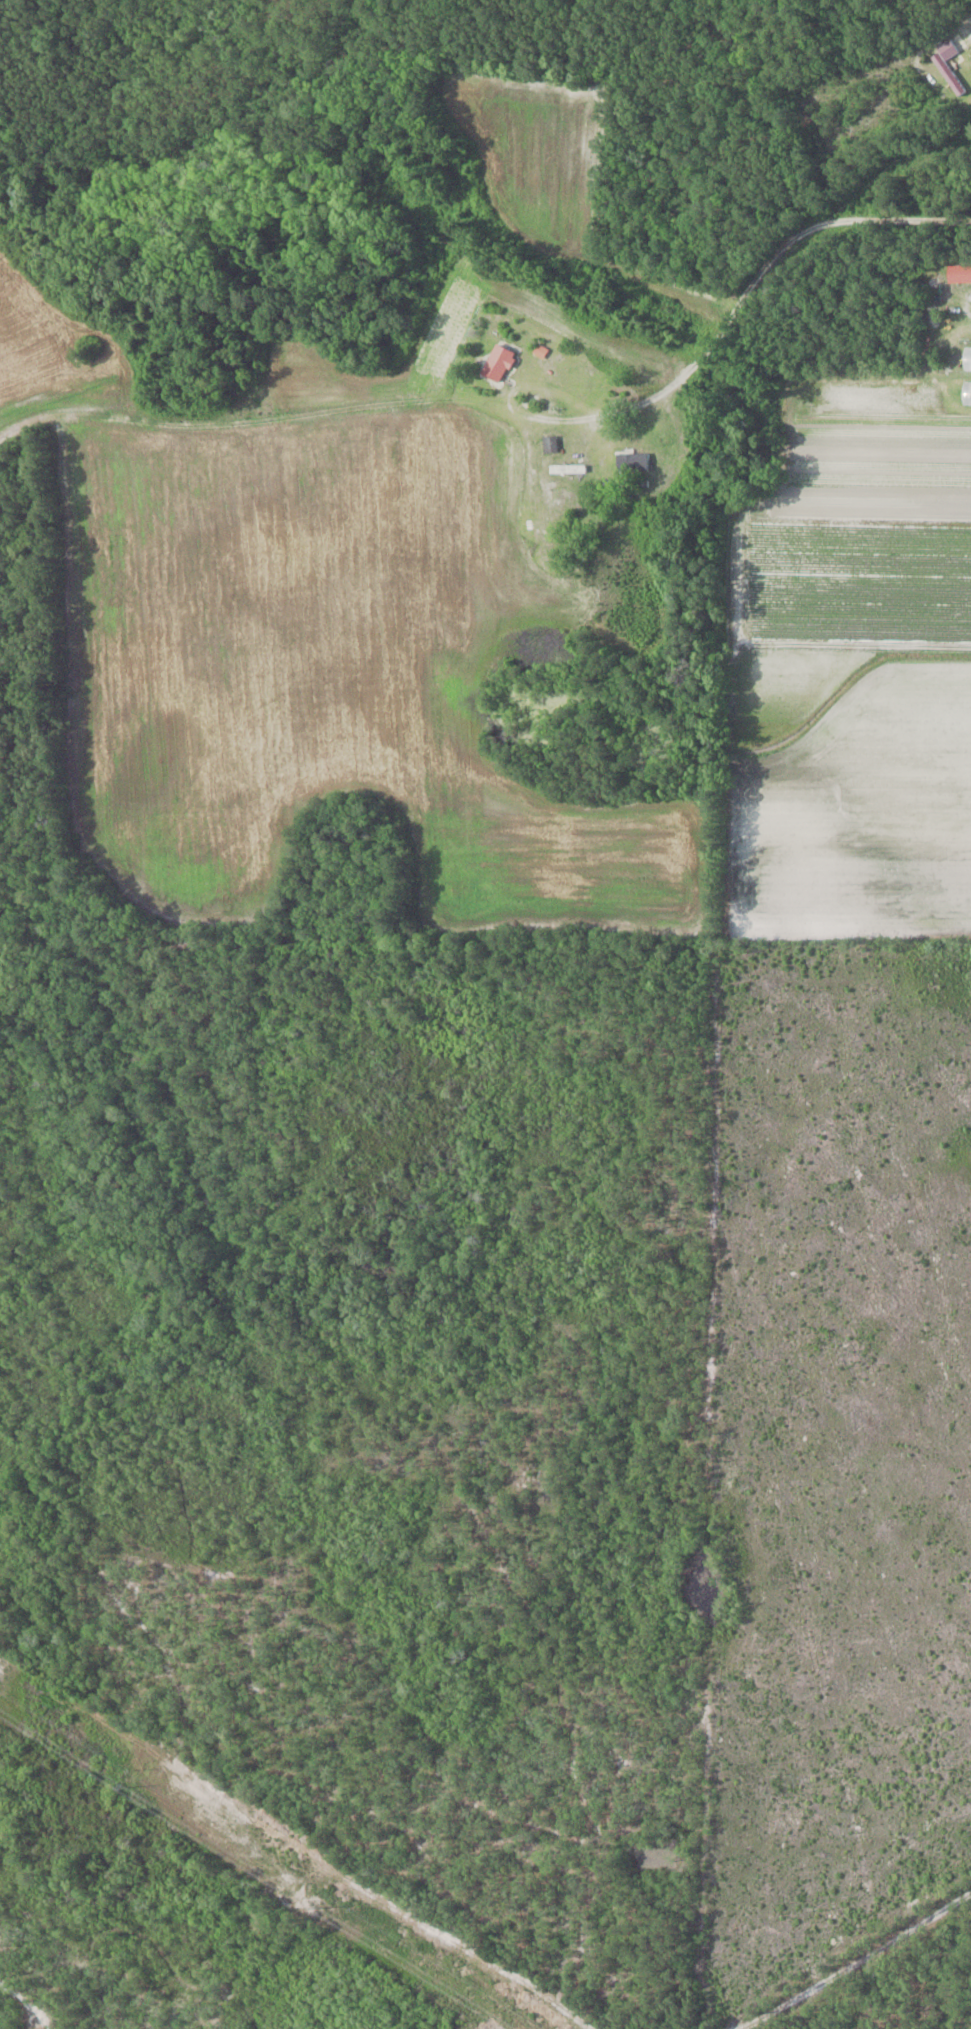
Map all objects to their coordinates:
building: (952, 79)
road: (802, 206)
building: (897, 272)
building: (967, 359)
building: (499, 362)
building: (967, 394)
building: (550, 443)
building: (632, 461)
building: (568, 468)

